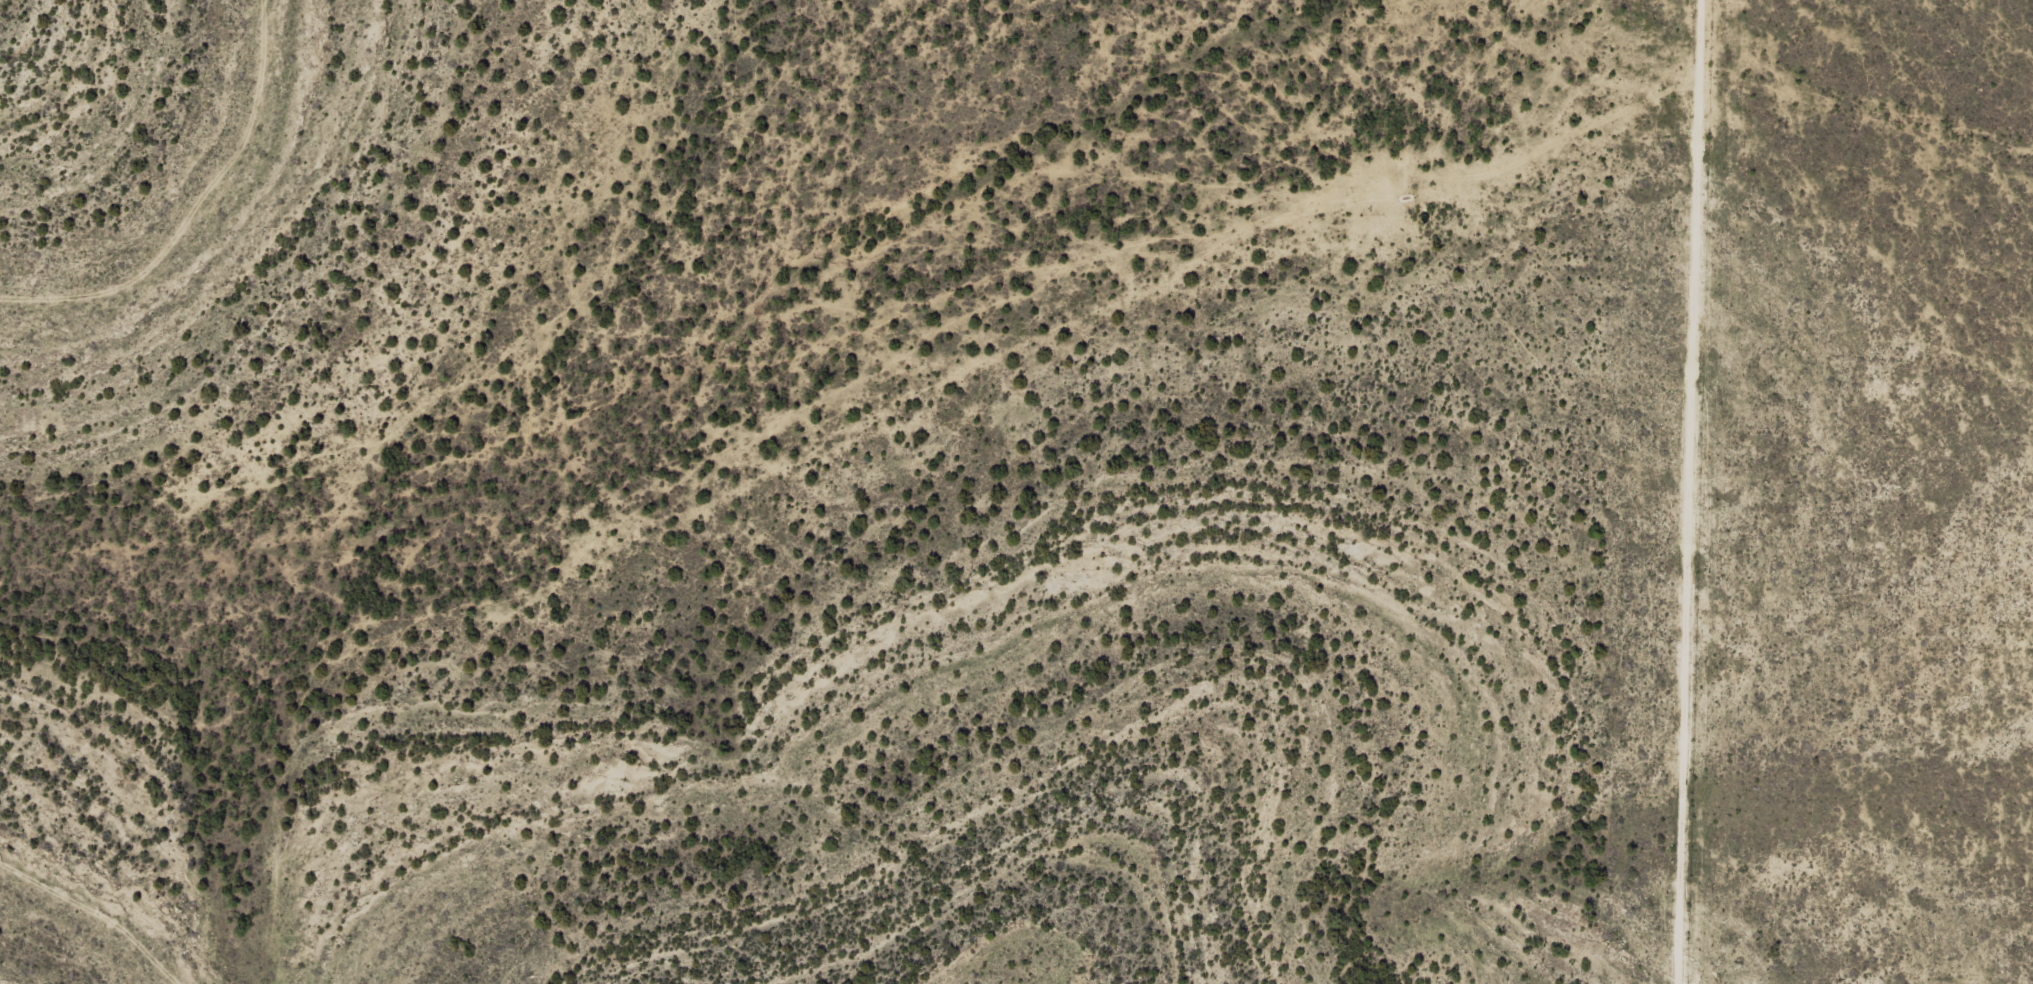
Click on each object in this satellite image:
road: (1700, 492)

